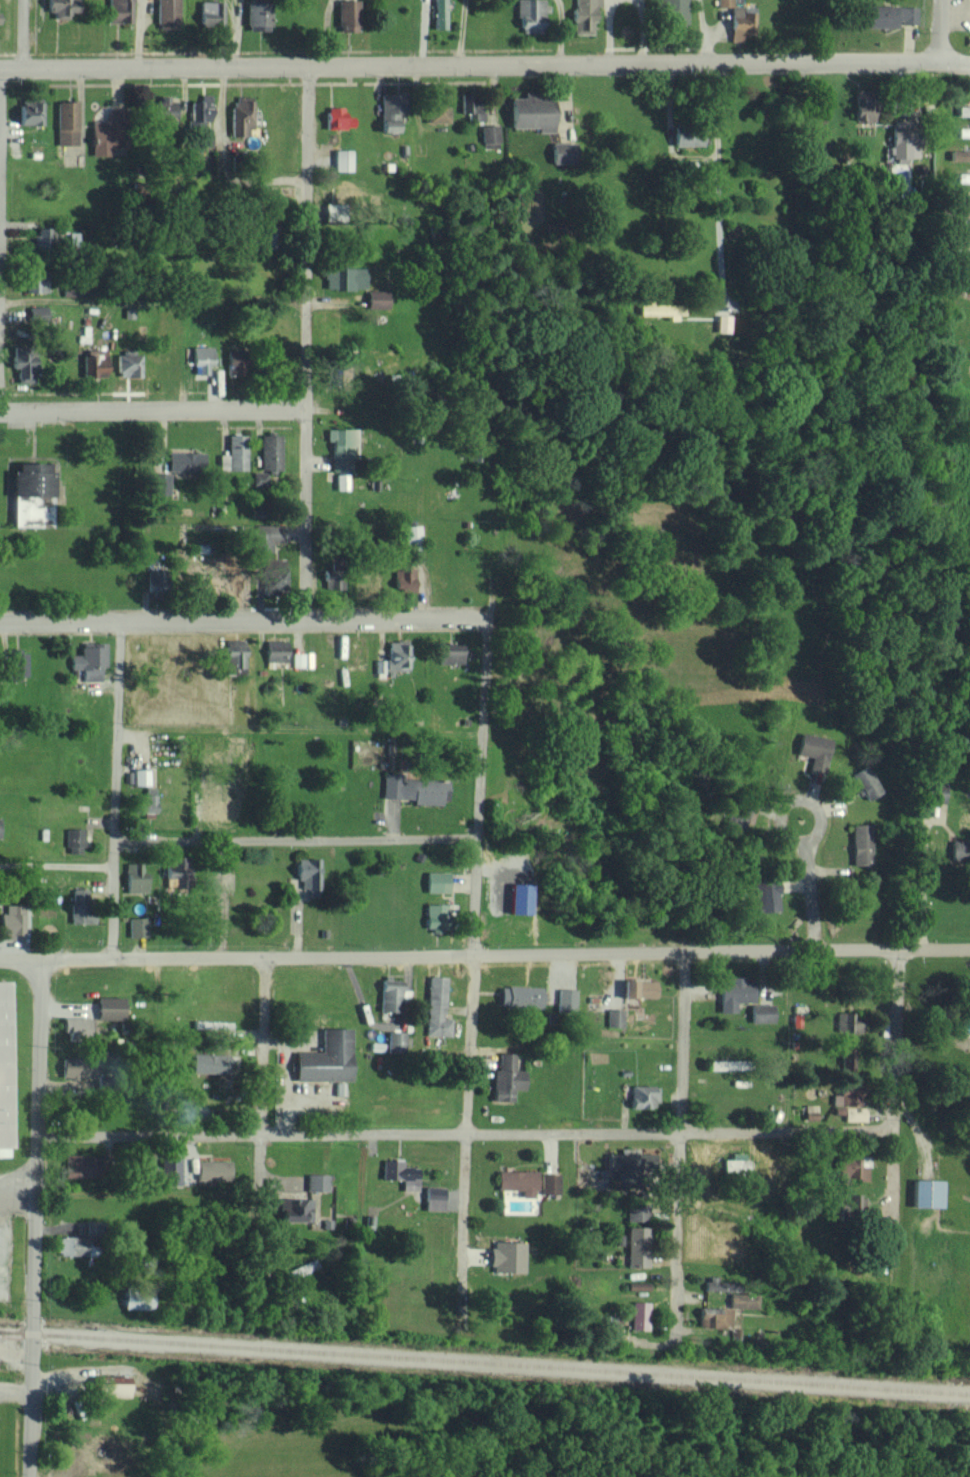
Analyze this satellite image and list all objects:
building: (724, 2)
building: (61, 7)
building: (119, 10)
building: (210, 11)
building: (672, 11)
building: (167, 12)
building: (439, 13)
building: (348, 14)
building: (530, 14)
building: (257, 15)
building: (584, 15)
building: (890, 15)
building: (741, 22)
road: (936, 30)
road: (22, 35)
road: (484, 64)
building: (438, 104)
building: (863, 104)
building: (203, 107)
building: (390, 109)
building: (163, 110)
building: (474, 110)
building: (30, 111)
building: (531, 112)
building: (335, 114)
building: (241, 117)
building: (66, 121)
building: (963, 131)
building: (489, 133)
building: (687, 135)
building: (202, 136)
building: (562, 152)
building: (960, 155)
building: (342, 159)
building: (963, 176)
road: (718, 183)
building: (962, 198)
building: (963, 222)
building: (42, 236)
building: (963, 245)
building: (344, 277)
building: (36, 280)
building: (377, 299)
road: (153, 302)
building: (662, 309)
building: (37, 314)
building: (723, 322)
road: (305, 343)
building: (201, 359)
building: (94, 362)
building: (20, 363)
building: (129, 363)
building: (234, 365)
building: (343, 374)
road: (173, 410)
building: (342, 441)
building: (270, 451)
building: (234, 452)
building: (184, 461)
building: (260, 478)
building: (31, 479)
building: (341, 481)
building: (161, 483)
building: (410, 532)
building: (261, 538)
building: (274, 575)
building: (333, 579)
building: (404, 579)
road: (242, 621)
building: (275, 650)
building: (450, 653)
building: (397, 655)
building: (298, 659)
building: (89, 660)
building: (17, 663)
building: (379, 667)
road: (299, 733)
building: (814, 750)
building: (140, 776)
building: (867, 781)
road: (479, 788)
road: (115, 789)
building: (416, 789)
building: (934, 791)
building: (146, 801)
building: (224, 804)
building: (736, 817)
road: (787, 835)
road: (296, 839)
building: (74, 840)
building: (861, 843)
building: (960, 850)
road: (56, 865)
building: (174, 871)
building: (308, 873)
building: (134, 877)
building: (436, 881)
road: (915, 882)
building: (766, 895)
building: (80, 905)
building: (436, 917)
building: (15, 921)
building: (137, 926)
road: (484, 954)
building: (641, 988)
building: (734, 993)
building: (390, 995)
building: (520, 996)
building: (968, 996)
building: (565, 999)
building: (110, 1007)
building: (436, 1007)
building: (762, 1013)
building: (844, 1020)
building: (211, 1024)
building: (78, 1028)
building: (396, 1041)
building: (326, 1057)
building: (209, 1063)
building: (725, 1064)
building: (3, 1066)
building: (77, 1068)
building: (507, 1078)
building: (643, 1096)
building: (849, 1106)
building: (810, 1111)
road: (465, 1122)
road: (259, 1123)
road: (463, 1135)
road: (890, 1135)
road: (679, 1146)
building: (633, 1159)
building: (735, 1164)
building: (76, 1166)
building: (850, 1169)
building: (212, 1170)
building: (173, 1172)
building: (400, 1173)
building: (518, 1181)
building: (317, 1182)
building: (549, 1183)
building: (927, 1193)
building: (434, 1198)
building: (853, 1202)
building: (295, 1209)
building: (637, 1213)
road: (35, 1218)
building: (69, 1245)
building: (637, 1246)
building: (507, 1256)
building: (638, 1285)
building: (714, 1285)
building: (137, 1299)
building: (744, 1300)
building: (639, 1315)
building: (715, 1317)
railway: (485, 1360)
building: (110, 1386)

